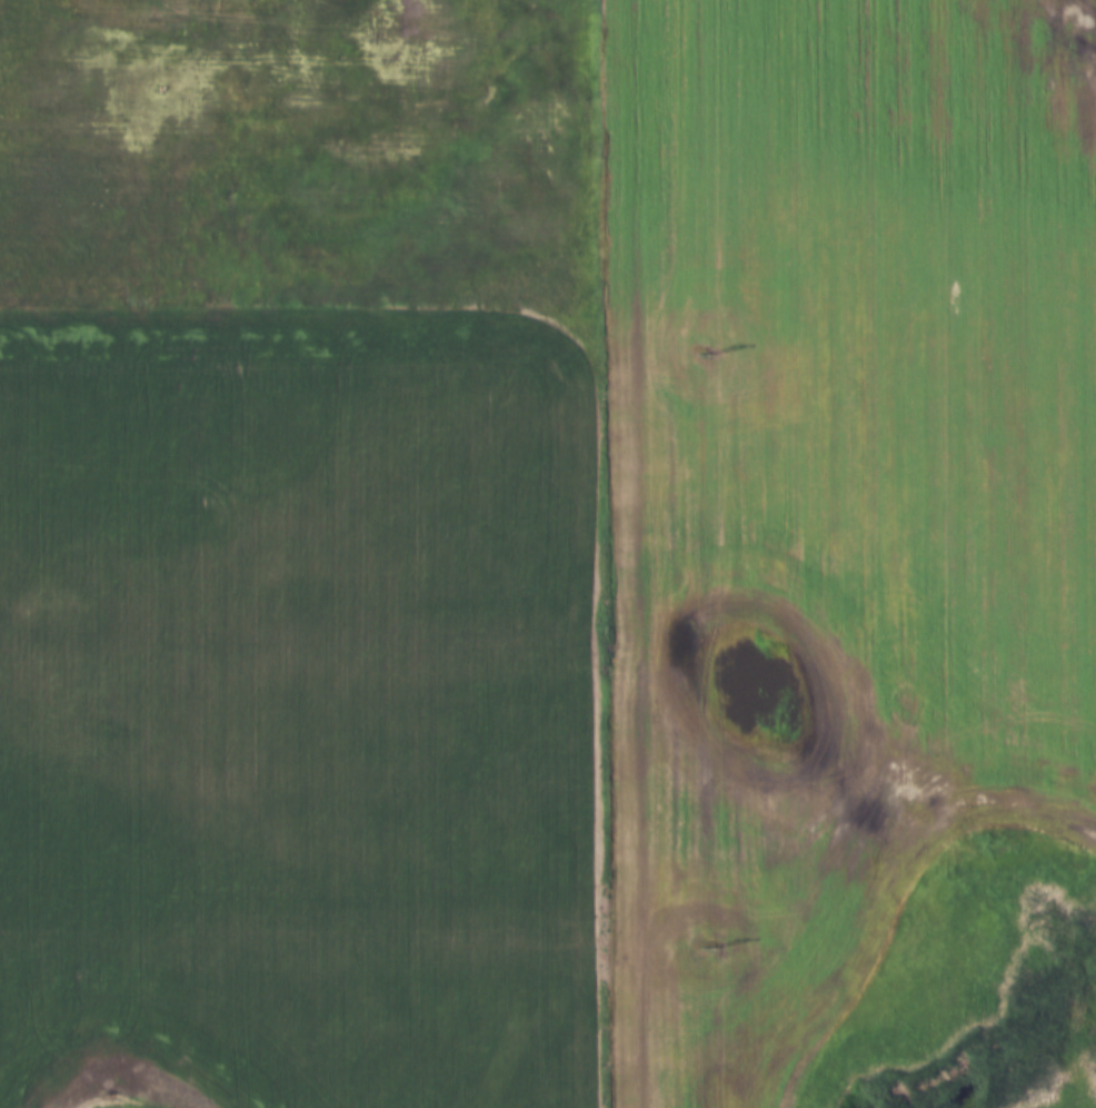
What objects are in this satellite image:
power tower: (703, 355)
power tower: (706, 946)

